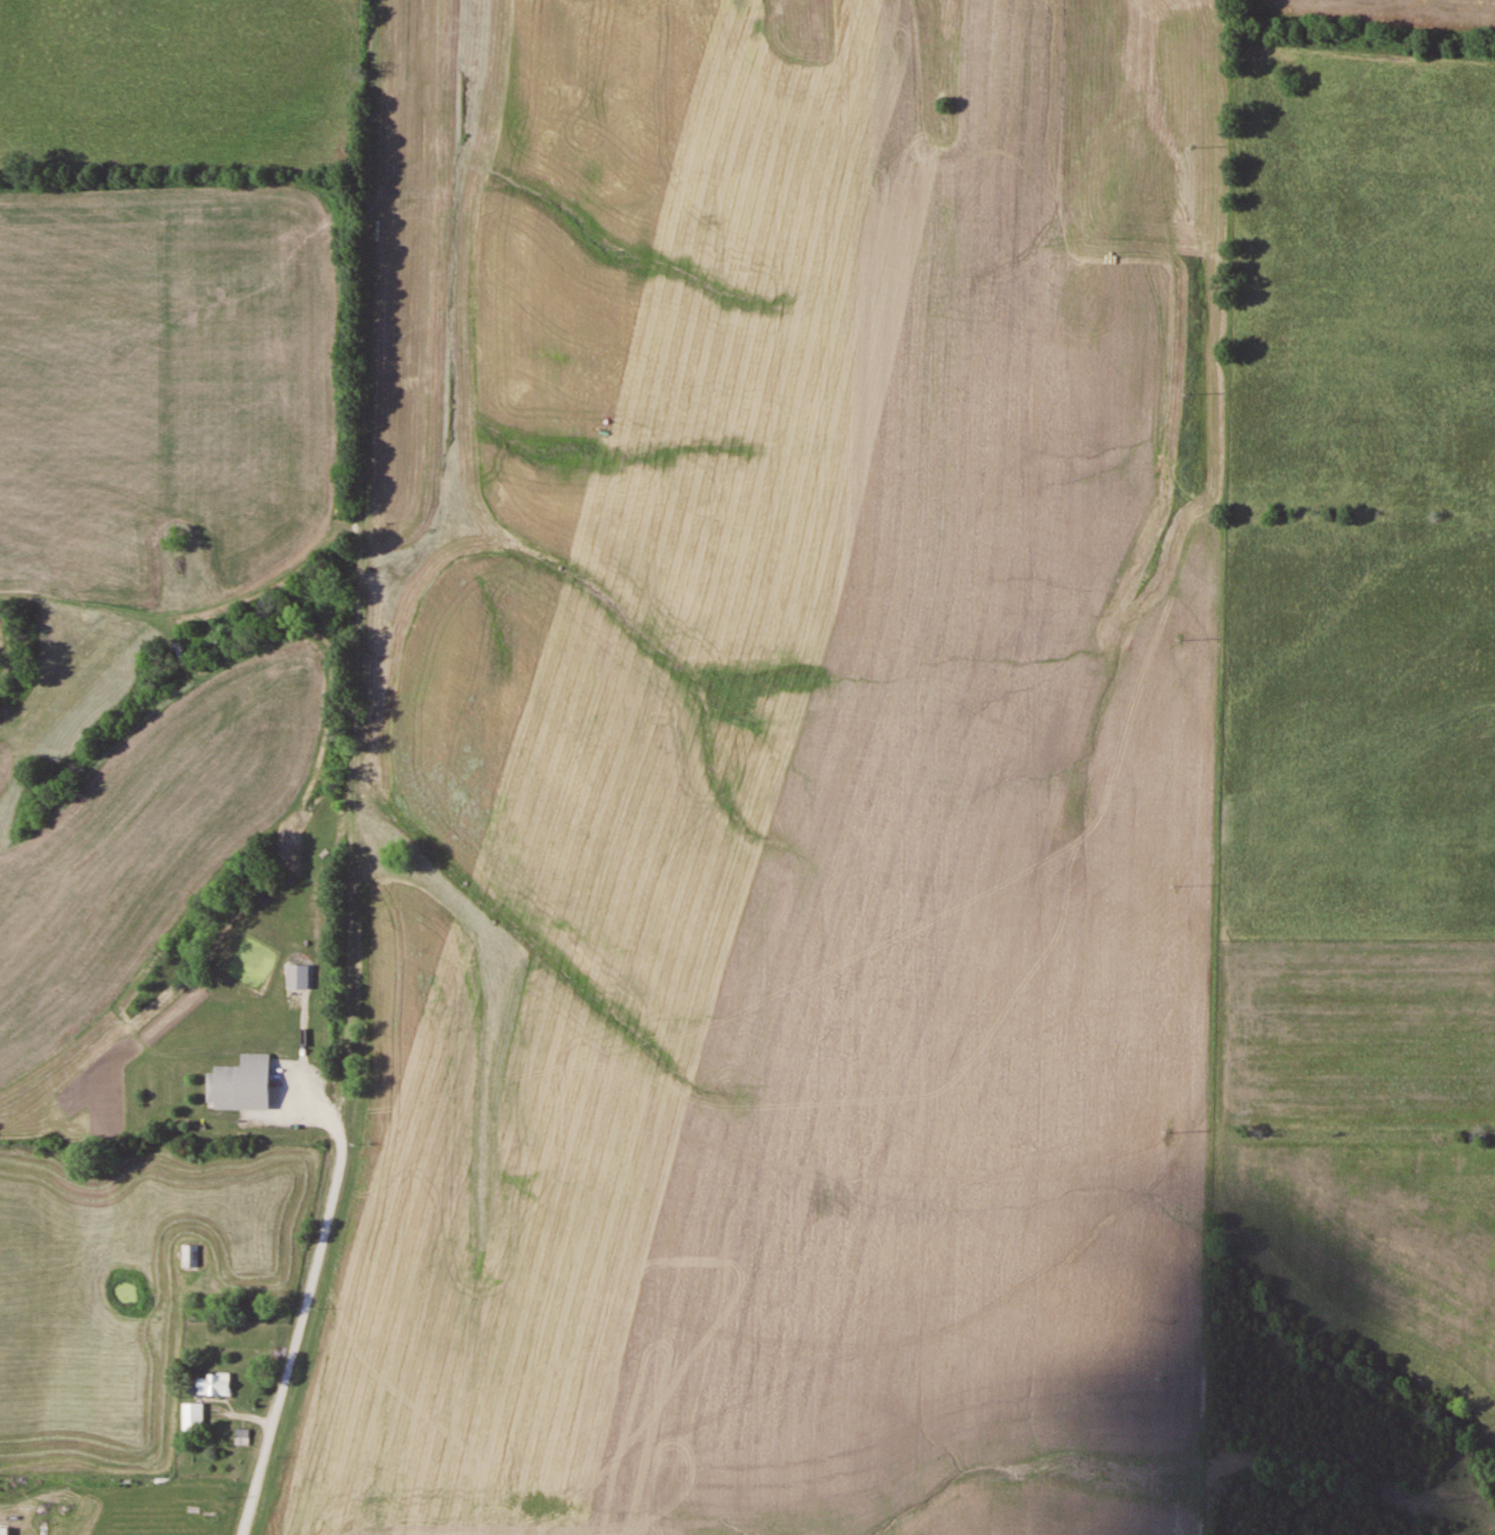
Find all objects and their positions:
building: (298, 977)
building: (228, 1089)
building: (193, 1255)
road: (306, 1300)
building: (214, 1384)
building: (193, 1416)
building: (242, 1436)
building: (4, 1530)

